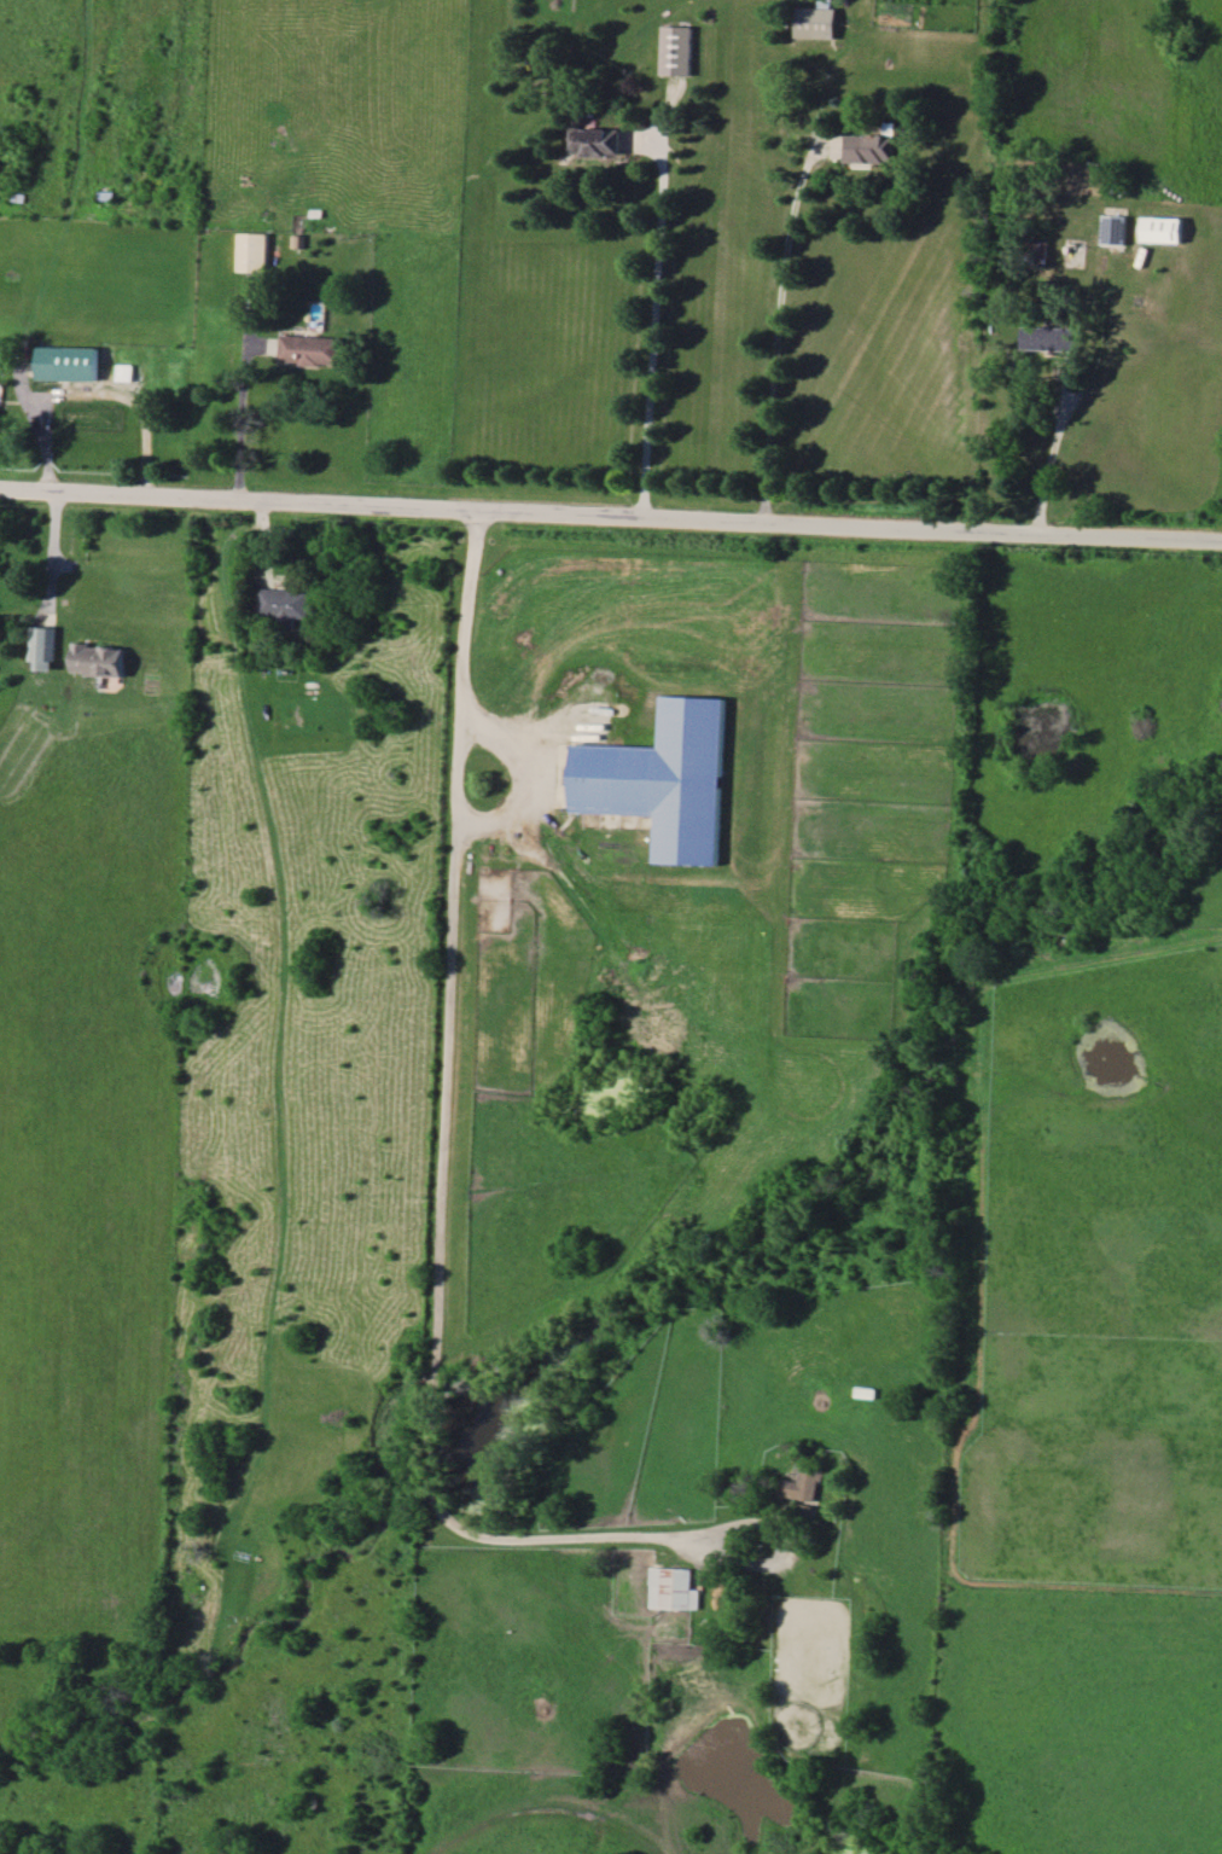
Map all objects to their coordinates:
building: (816, 22)
building: (677, 50)
building: (595, 141)
building: (872, 149)
building: (1115, 229)
building: (254, 252)
road: (784, 286)
road: (657, 312)
building: (1051, 338)
building: (314, 350)
building: (70, 364)
building: (127, 372)
road: (95, 394)
road: (245, 422)
road: (1052, 460)
road: (610, 515)
building: (286, 604)
building: (47, 649)
building: (99, 659)
road: (462, 664)
road: (529, 779)
building: (665, 780)
road: (435, 1416)
building: (807, 1486)
building: (674, 1589)

